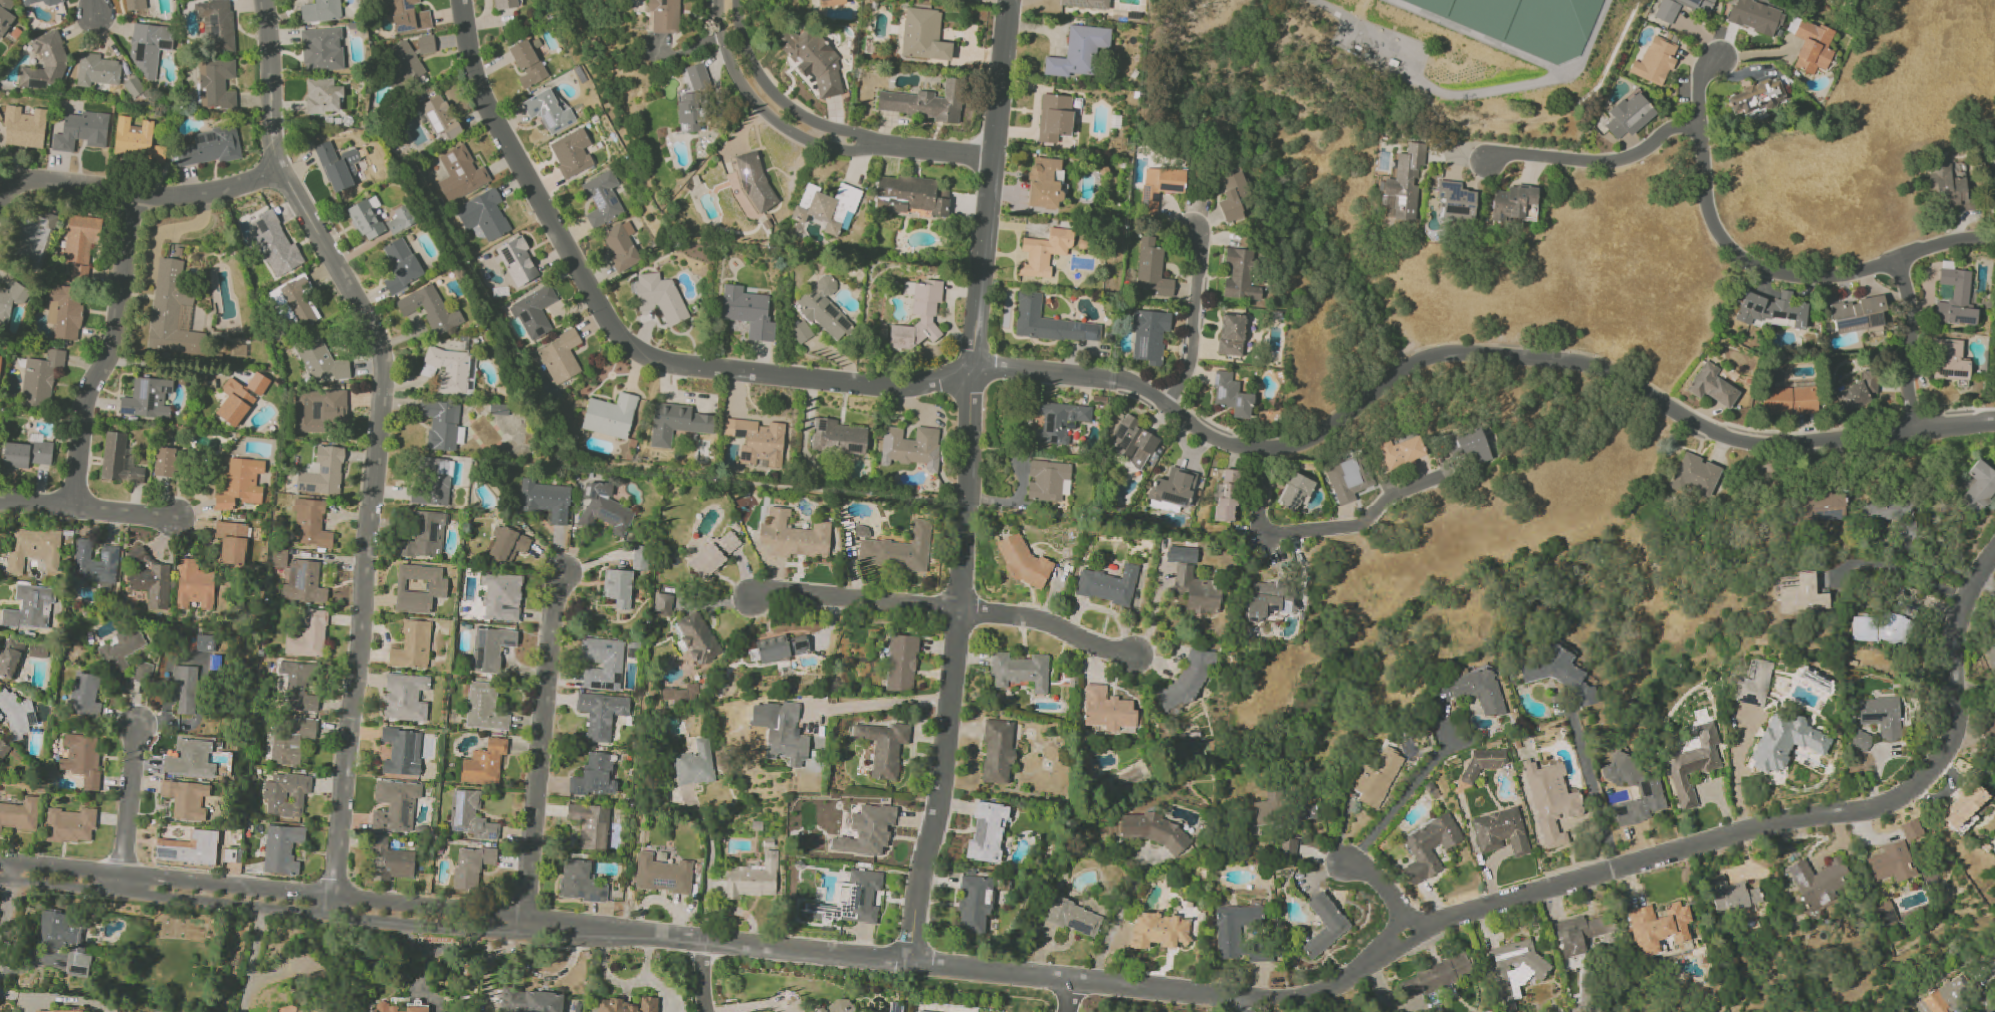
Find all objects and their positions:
building: (28, 1)
building: (829, 1)
building: (52, 2)
building: (1086, 3)
building: (134, 4)
building: (506, 4)
building: (1698, 4)
road: (93, 10)
building: (319, 10)
building: (1666, 10)
building: (406, 16)
building: (664, 16)
building: (1754, 16)
building: (216, 24)
building: (923, 35)
building: (425, 44)
building: (1811, 44)
building: (148, 47)
building: (321, 49)
building: (1078, 51)
building: (813, 60)
building: (402, 61)
building: (1654, 61)
building: (44, 62)
building: (526, 63)
building: (96, 70)
building: (216, 83)
building: (133, 86)
building: (322, 95)
building: (691, 97)
building: (1754, 97)
building: (925, 102)
building: (548, 111)
building: (1629, 115)
building: (1054, 117)
building: (441, 118)
building: (23, 127)
building: (81, 130)
building: (135, 137)
building: (208, 147)
road: (857, 148)
road: (932, 151)
building: (571, 152)
road: (1600, 162)
building: (337, 165)
building: (460, 173)
building: (754, 181)
building: (1044, 182)
building: (1402, 183)
building: (1160, 184)
building: (1944, 184)
building: (911, 195)
road: (134, 196)
building: (1234, 196)
building: (1993, 196)
building: (601, 198)
building: (1455, 200)
building: (1510, 201)
building: (827, 206)
building: (1527, 212)
building: (483, 214)
building: (366, 218)
building: (400, 219)
building: (798, 228)
building: (33, 237)
building: (80, 244)
building: (274, 244)
building: (620, 245)
building: (1044, 251)
building: (517, 261)
building: (400, 264)
road: (1762, 266)
building: (1152, 270)
building: (1240, 274)
building: (1954, 296)
building: (659, 297)
building: (11, 301)
building: (300, 301)
building: (429, 308)
building: (822, 308)
building: (1771, 309)
building: (64, 311)
building: (534, 311)
building: (747, 311)
building: (172, 312)
building: (1857, 313)
road: (1194, 319)
building: (1049, 322)
building: (801, 332)
building: (1231, 334)
building: (1149, 335)
road: (1913, 345)
road: (1525, 348)
road: (108, 352)
building: (560, 357)
building: (1949, 361)
building: (322, 362)
road: (171, 365)
building: (450, 370)
road: (1141, 376)
building: (41, 377)
building: (1711, 385)
building: (1859, 391)
road: (1145, 393)
building: (1231, 395)
road: (1170, 396)
building: (146, 398)
building: (1789, 399)
building: (234, 402)
road: (1963, 407)
building: (500, 408)
building: (319, 409)
building: (609, 415)
road: (1918, 416)
building: (1058, 421)
building: (676, 422)
building: (442, 424)
building: (838, 436)
road: (379, 439)
building: (757, 440)
building: (1131, 441)
building: (1469, 446)
building: (910, 447)
building: (1400, 451)
building: (25, 453)
building: (118, 459)
building: (163, 461)
building: (322, 472)
building: (1695, 476)
building: (1347, 479)
building: (1048, 480)
building: (433, 482)
road: (970, 482)
building: (240, 483)
building: (1979, 486)
building: (1172, 490)
building: (1294, 491)
building: (1227, 495)
building: (545, 500)
road: (89, 504)
building: (1824, 507)
building: (605, 509)
building: (1894, 515)
building: (311, 523)
road: (1320, 529)
building: (862, 531)
building: (426, 536)
building: (794, 536)
building: (233, 542)
building: (508, 545)
building: (35, 548)
building: (894, 552)
building: (715, 554)
building: (281, 558)
building: (641, 558)
building: (1024, 562)
building: (96, 563)
road: (1901, 571)
building: (150, 579)
building: (305, 582)
building: (1194, 582)
building: (195, 585)
building: (1110, 585)
building: (619, 587)
building: (419, 588)
building: (502, 596)
building: (1804, 596)
road: (855, 599)
building: (1268, 599)
building: (665, 600)
building: (31, 608)
road: (1050, 625)
building: (1880, 629)
building: (310, 636)
building: (1993, 636)
building: (698, 638)
building: (206, 643)
building: (413, 646)
building: (491, 648)
building: (1992, 656)
building: (11, 658)
building: (603, 663)
building: (902, 663)
building: (1021, 671)
building: (1560, 673)
building: (1755, 685)
building: (300, 686)
building: (186, 689)
building: (1477, 690)
building: (683, 694)
building: (85, 696)
building: (406, 698)
road: (882, 704)
building: (486, 708)
building: (1108, 709)
building: (17, 714)
building: (602, 714)
building: (1882, 716)
building: (1990, 726)
building: (782, 731)
building: (1862, 741)
building: (293, 742)
building: (1786, 742)
road: (541, 747)
building: (885, 747)
building: (4, 749)
building: (998, 751)
building: (403, 752)
building: (83, 758)
building: (192, 759)
building: (1485, 761)
building: (485, 763)
building: (1694, 764)
building: (695, 765)
building: (596, 776)
building: (1378, 778)
road: (1413, 788)
road: (1595, 788)
building: (1651, 792)
building: (287, 794)
building: (187, 799)
building: (1552, 800)
road: (130, 804)
building: (397, 805)
building: (1965, 809)
building: (1267, 810)
building: (20, 814)
building: (471, 816)
road: (1790, 819)
building: (71, 825)
building: (592, 825)
building: (1913, 829)
building: (868, 830)
building: (1155, 830)
building: (1501, 831)
building: (988, 832)
building: (1430, 847)
building: (1290, 848)
building: (190, 849)
building: (283, 849)
building: (392, 861)
building: (1893, 863)
road: (709, 865)
building: (472, 866)
building: (663, 875)
building: (753, 879)
building: (581, 882)
building: (1820, 882)
road: (1383, 884)
building: (1737, 897)
road: (659, 899)
building: (851, 900)
building: (975, 903)
road: (7, 908)
road: (741, 911)
building: (1887, 912)
building: (1074, 917)
road: (455, 919)
road: (1117, 920)
road: (1413, 923)
building: (1325, 924)
building: (1659, 927)
building: (1235, 928)
building: (1160, 931)
road: (1394, 934)
building: (1583, 934)
building: (66, 940)
road: (1408, 943)
road: (488, 953)
building: (1514, 970)
road: (1988, 971)
road: (705, 976)
road: (543, 977)
building: (1435, 977)
road: (1154, 988)
road: (1070, 997)
building: (1947, 997)
building: (530, 1001)
road: (1256, 1004)
building: (629, 1005)
building: (838, 1007)
building: (59, 1011)

